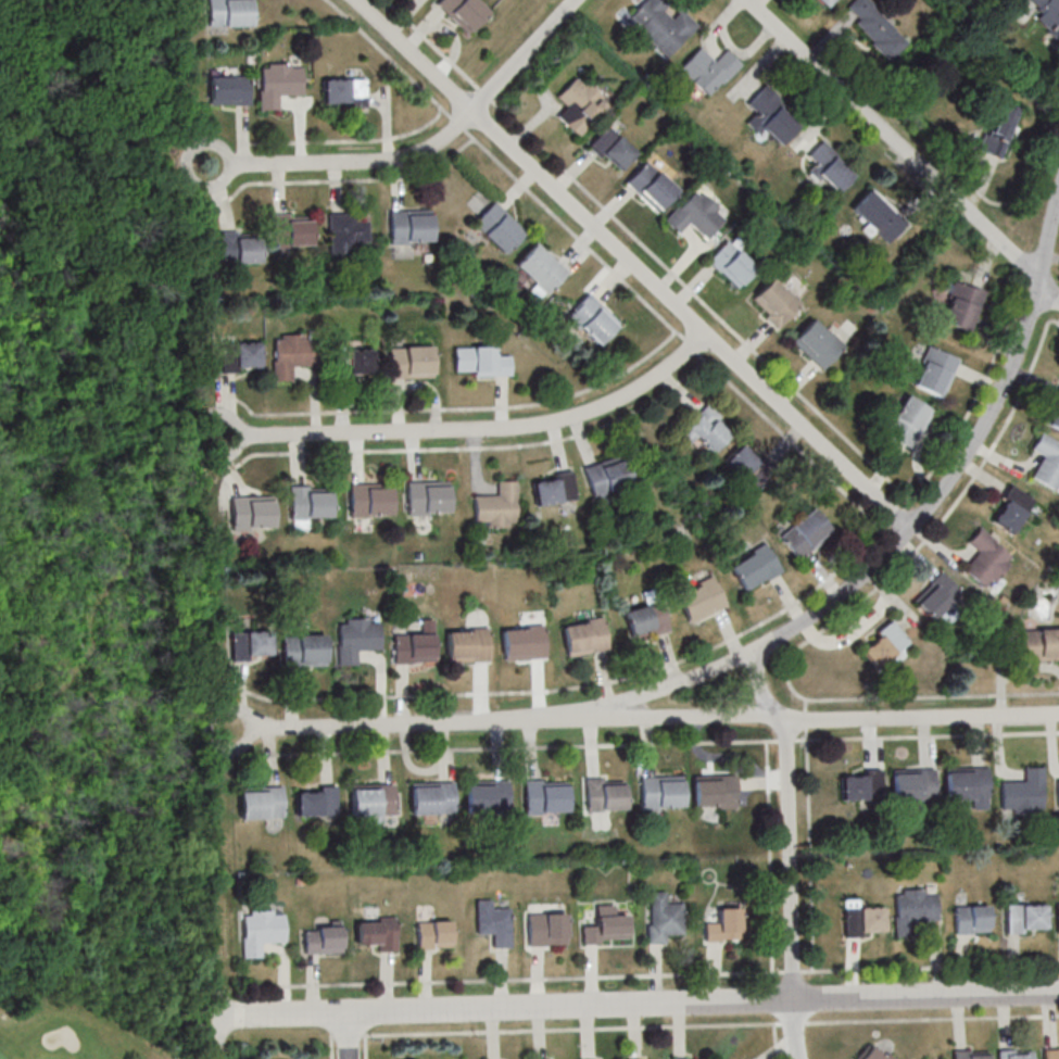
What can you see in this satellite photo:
building: (827, 2)
building: (229, 13)
building: (463, 13)
building: (1048, 14)
building: (660, 26)
building: (875, 26)
building: (708, 70)
building: (279, 83)
building: (228, 90)
building: (344, 92)
building: (580, 104)
building: (770, 117)
building: (999, 129)
road: (904, 148)
building: (610, 149)
road: (423, 151)
building: (828, 167)
building: (651, 188)
building: (695, 215)
building: (877, 216)
building: (411, 226)
building: (497, 228)
building: (292, 230)
building: (345, 232)
building: (240, 249)
road: (632, 264)
building: (731, 265)
road: (1024, 267)
building: (541, 268)
building: (776, 304)
building: (961, 306)
building: (592, 319)
building: (817, 345)
building: (291, 355)
building: (238, 357)
building: (480, 362)
building: (409, 363)
building: (352, 364)
building: (934, 371)
building: (1054, 413)
building: (906, 420)
road: (475, 427)
building: (705, 429)
building: (1046, 462)
building: (744, 464)
building: (607, 476)
road: (45, 477)
road: (102, 488)
building: (552, 488)
building: (426, 497)
building: (369, 500)
building: (307, 504)
building: (495, 507)
building: (1010, 509)
building: (251, 513)
park: (94, 524)
building: (804, 532)
building: (986, 558)
building: (754, 568)
building: (699, 600)
building: (933, 601)
road: (843, 613)
building: (645, 620)
building: (584, 635)
building: (355, 639)
road: (723, 641)
building: (522, 642)
building: (1039, 644)
building: (250, 645)
building: (467, 646)
road: (759, 646)
building: (884, 646)
building: (302, 650)
building: (412, 650)
road: (776, 682)
road: (922, 717)
road: (669, 719)
road: (926, 735)
road: (786, 740)
road: (524, 746)
building: (860, 785)
building: (912, 785)
building: (967, 785)
building: (1022, 790)
building: (715, 793)
building: (1057, 793)
building: (660, 794)
building: (604, 796)
building: (545, 797)
building: (484, 798)
building: (430, 799)
building: (370, 802)
building: (315, 803)
building: (259, 804)
road: (809, 833)
road: (770, 855)
road: (790, 859)
building: (913, 909)
building: (1057, 917)
building: (661, 918)
building: (1024, 918)
building: (861, 919)
building: (971, 919)
building: (492, 922)
building: (605, 925)
building: (724, 925)
building: (545, 929)
building: (260, 930)
building: (377, 933)
building: (432, 934)
building: (320, 940)
road: (930, 967)
road: (793, 970)
road: (528, 978)
road: (926, 995)
road: (504, 1008)
road: (932, 1018)
road: (794, 1022)
road: (572, 1029)
road: (794, 1029)
park: (67, 1030)
road: (346, 1035)
road: (348, 1035)
road: (776, 1041)
road: (331, 1047)
road: (365, 1047)
building: (875, 1052)
building: (1050, 1052)
building: (967, 1054)
building: (1011, 1054)
building: (688, 1058)

